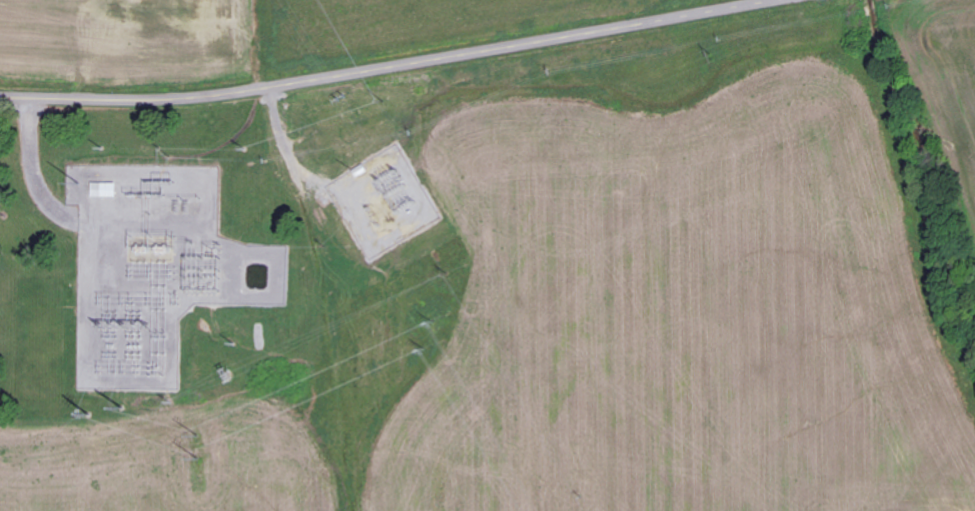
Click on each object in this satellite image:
road: (379, 65)
building: (103, 190)
power substation: (155, 270)
power tower: (232, 377)
power tower: (122, 409)
power tower: (89, 417)

